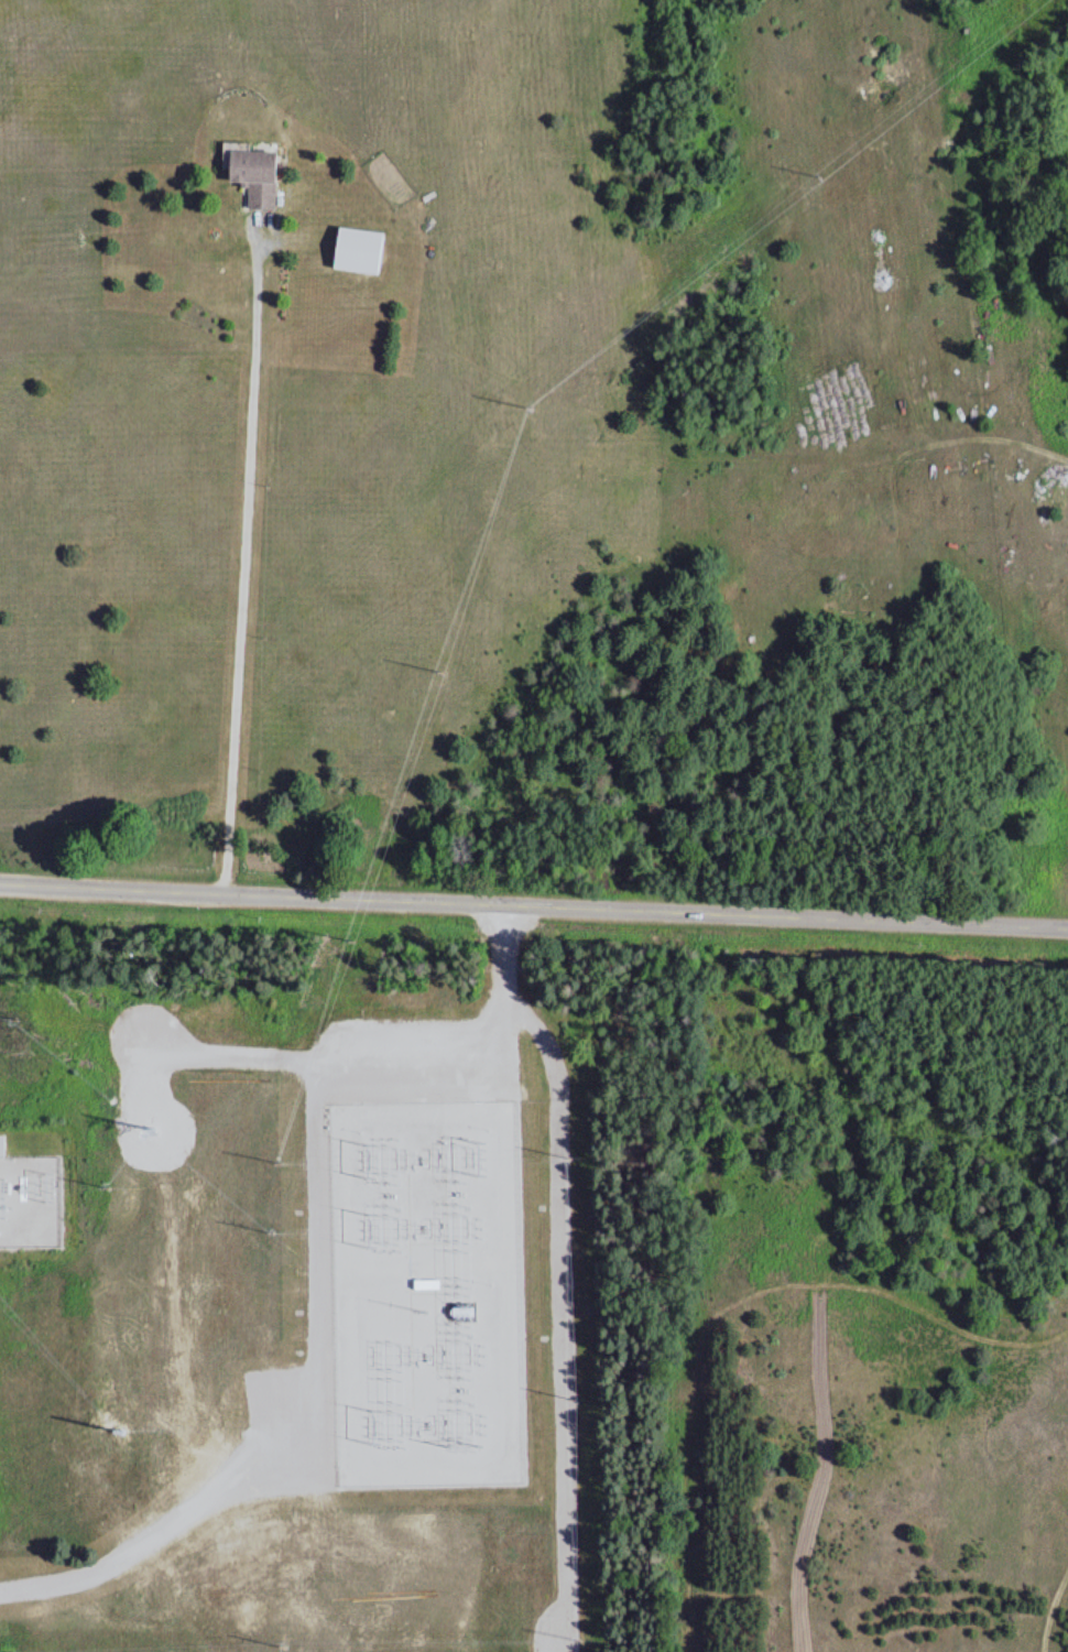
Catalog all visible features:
building: (251, 174)
building: (353, 250)
road: (533, 905)
road: (504, 934)
road: (515, 1020)
road: (502, 1032)
road: (240, 1058)
road: (149, 1068)
road: (325, 1083)
road: (151, 1105)
power tower: (155, 1129)
building: (3, 1143)
power substation: (31, 1199)
road: (319, 1235)
building: (425, 1280)
power substation: (429, 1292)
road: (563, 1315)
road: (262, 1486)
road: (137, 1544)

